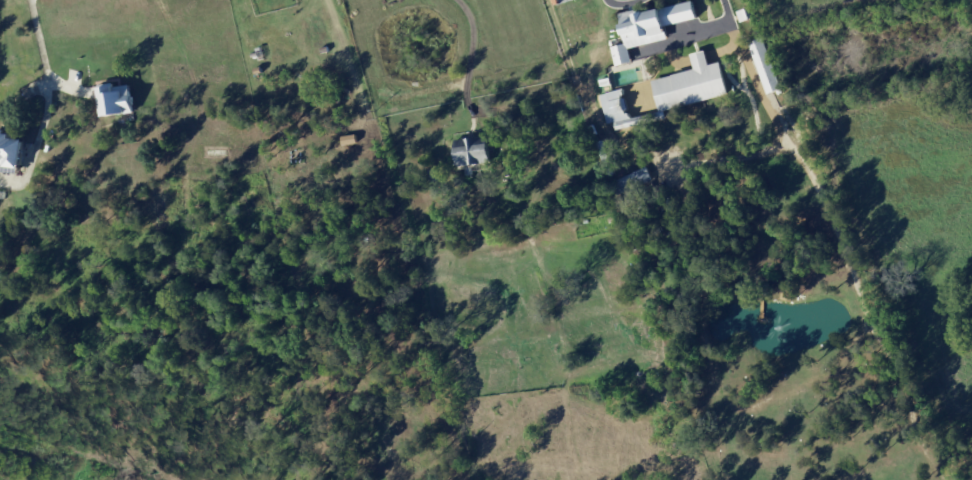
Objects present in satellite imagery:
building: (651, 27)
road: (39, 40)
road: (468, 58)
building: (766, 64)
building: (692, 83)
building: (117, 98)
building: (616, 108)
road: (780, 110)
building: (348, 138)
building: (13, 149)
building: (476, 150)
building: (636, 177)

